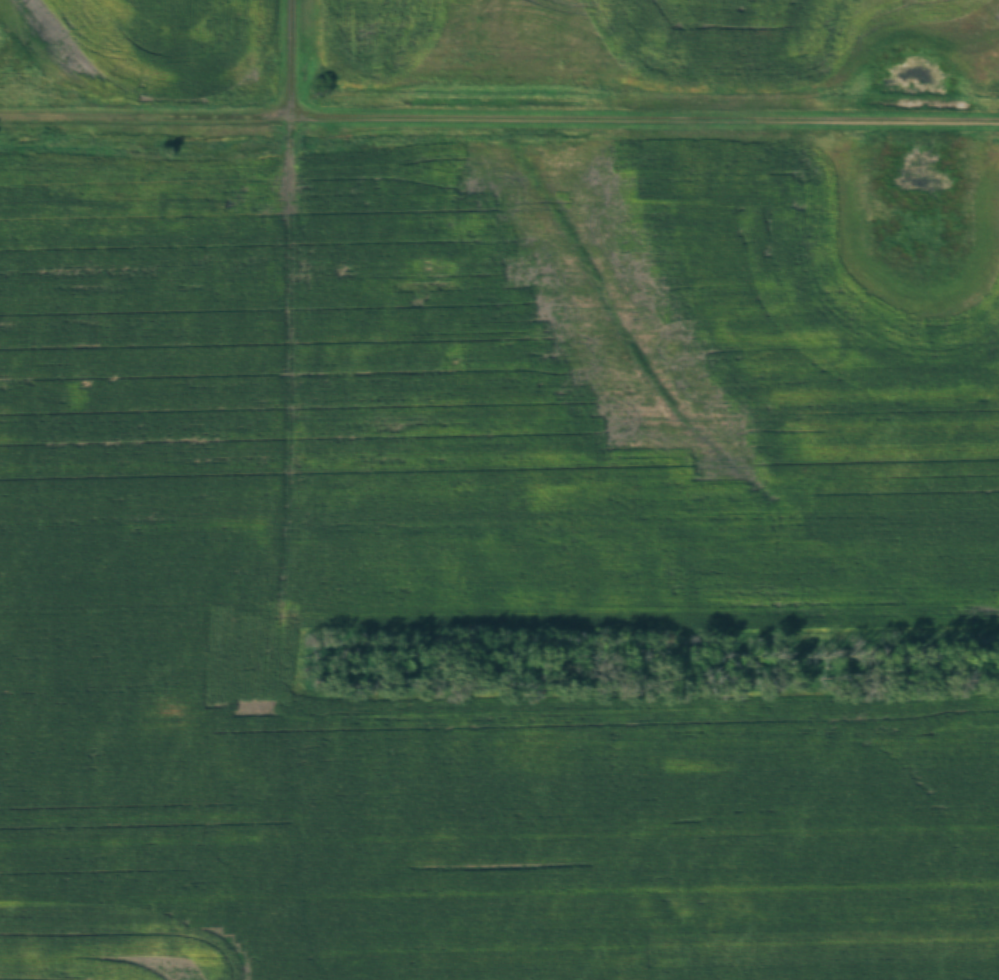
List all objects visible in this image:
road: (499, 113)
road: (289, 343)

